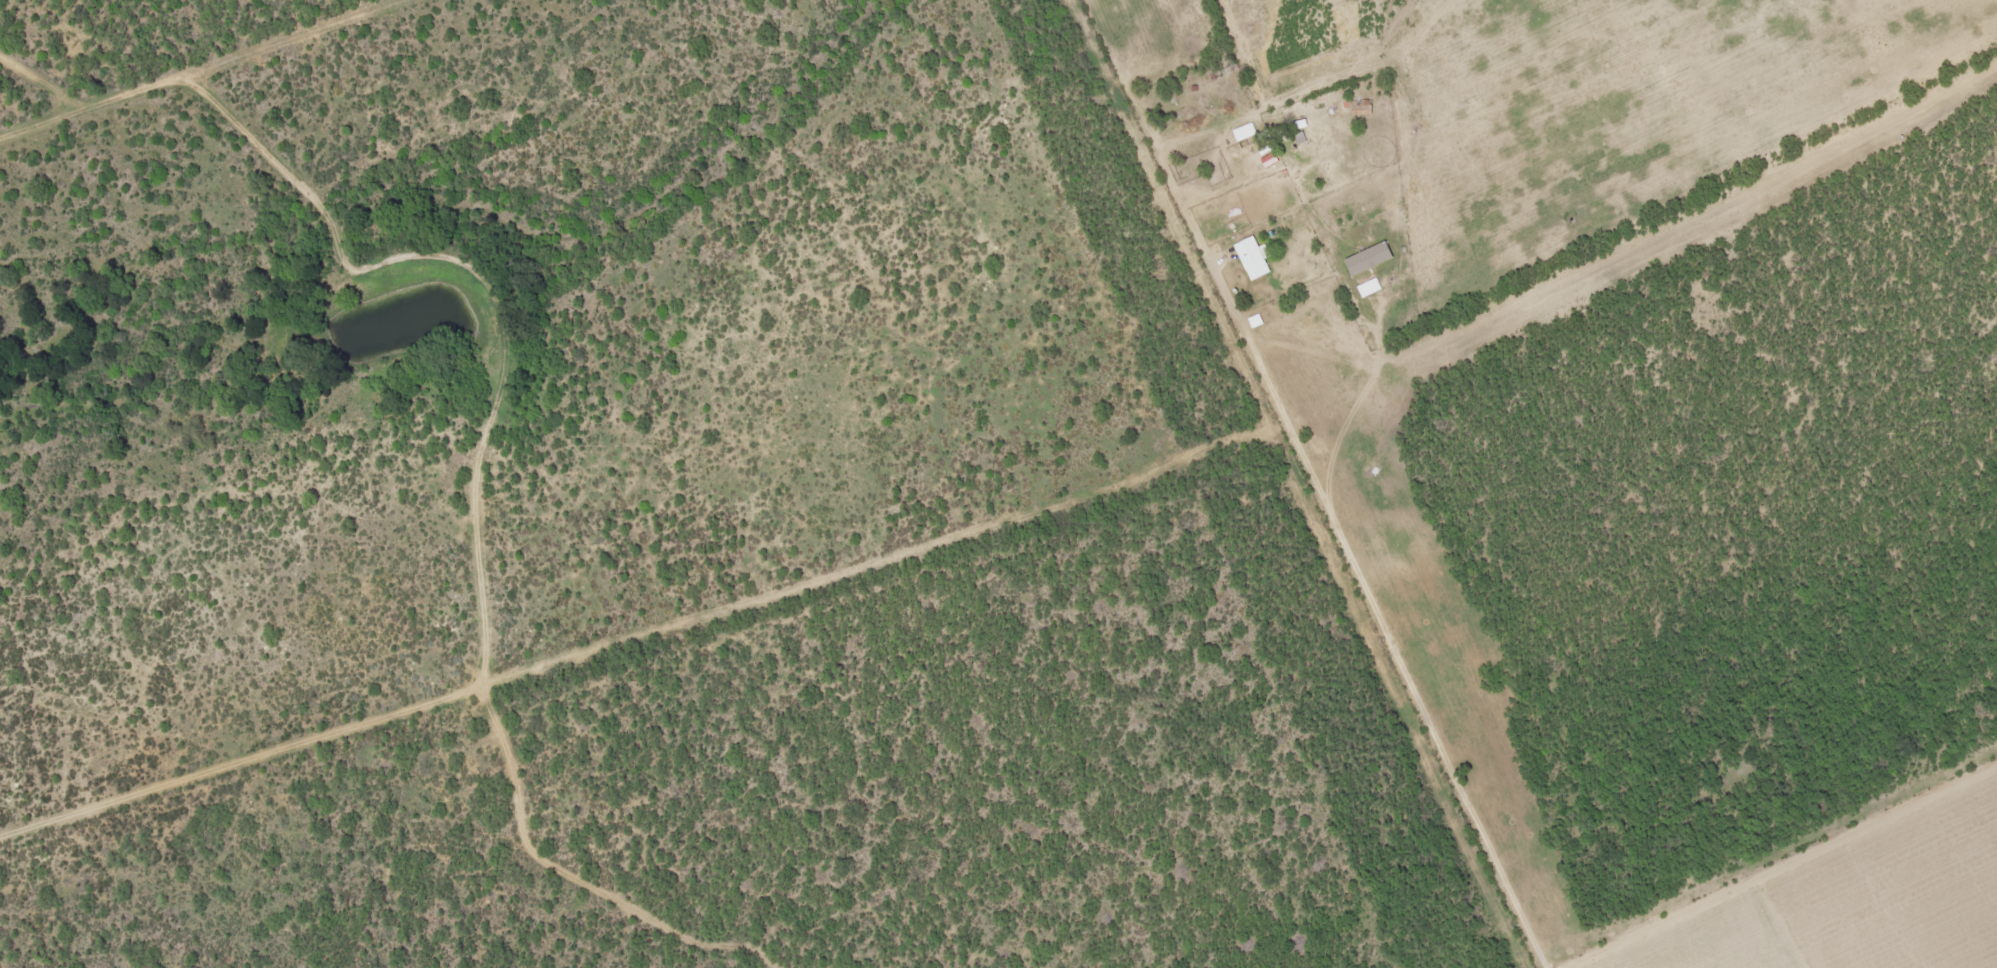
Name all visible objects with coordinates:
building: (1251, 259)
road: (1310, 483)

